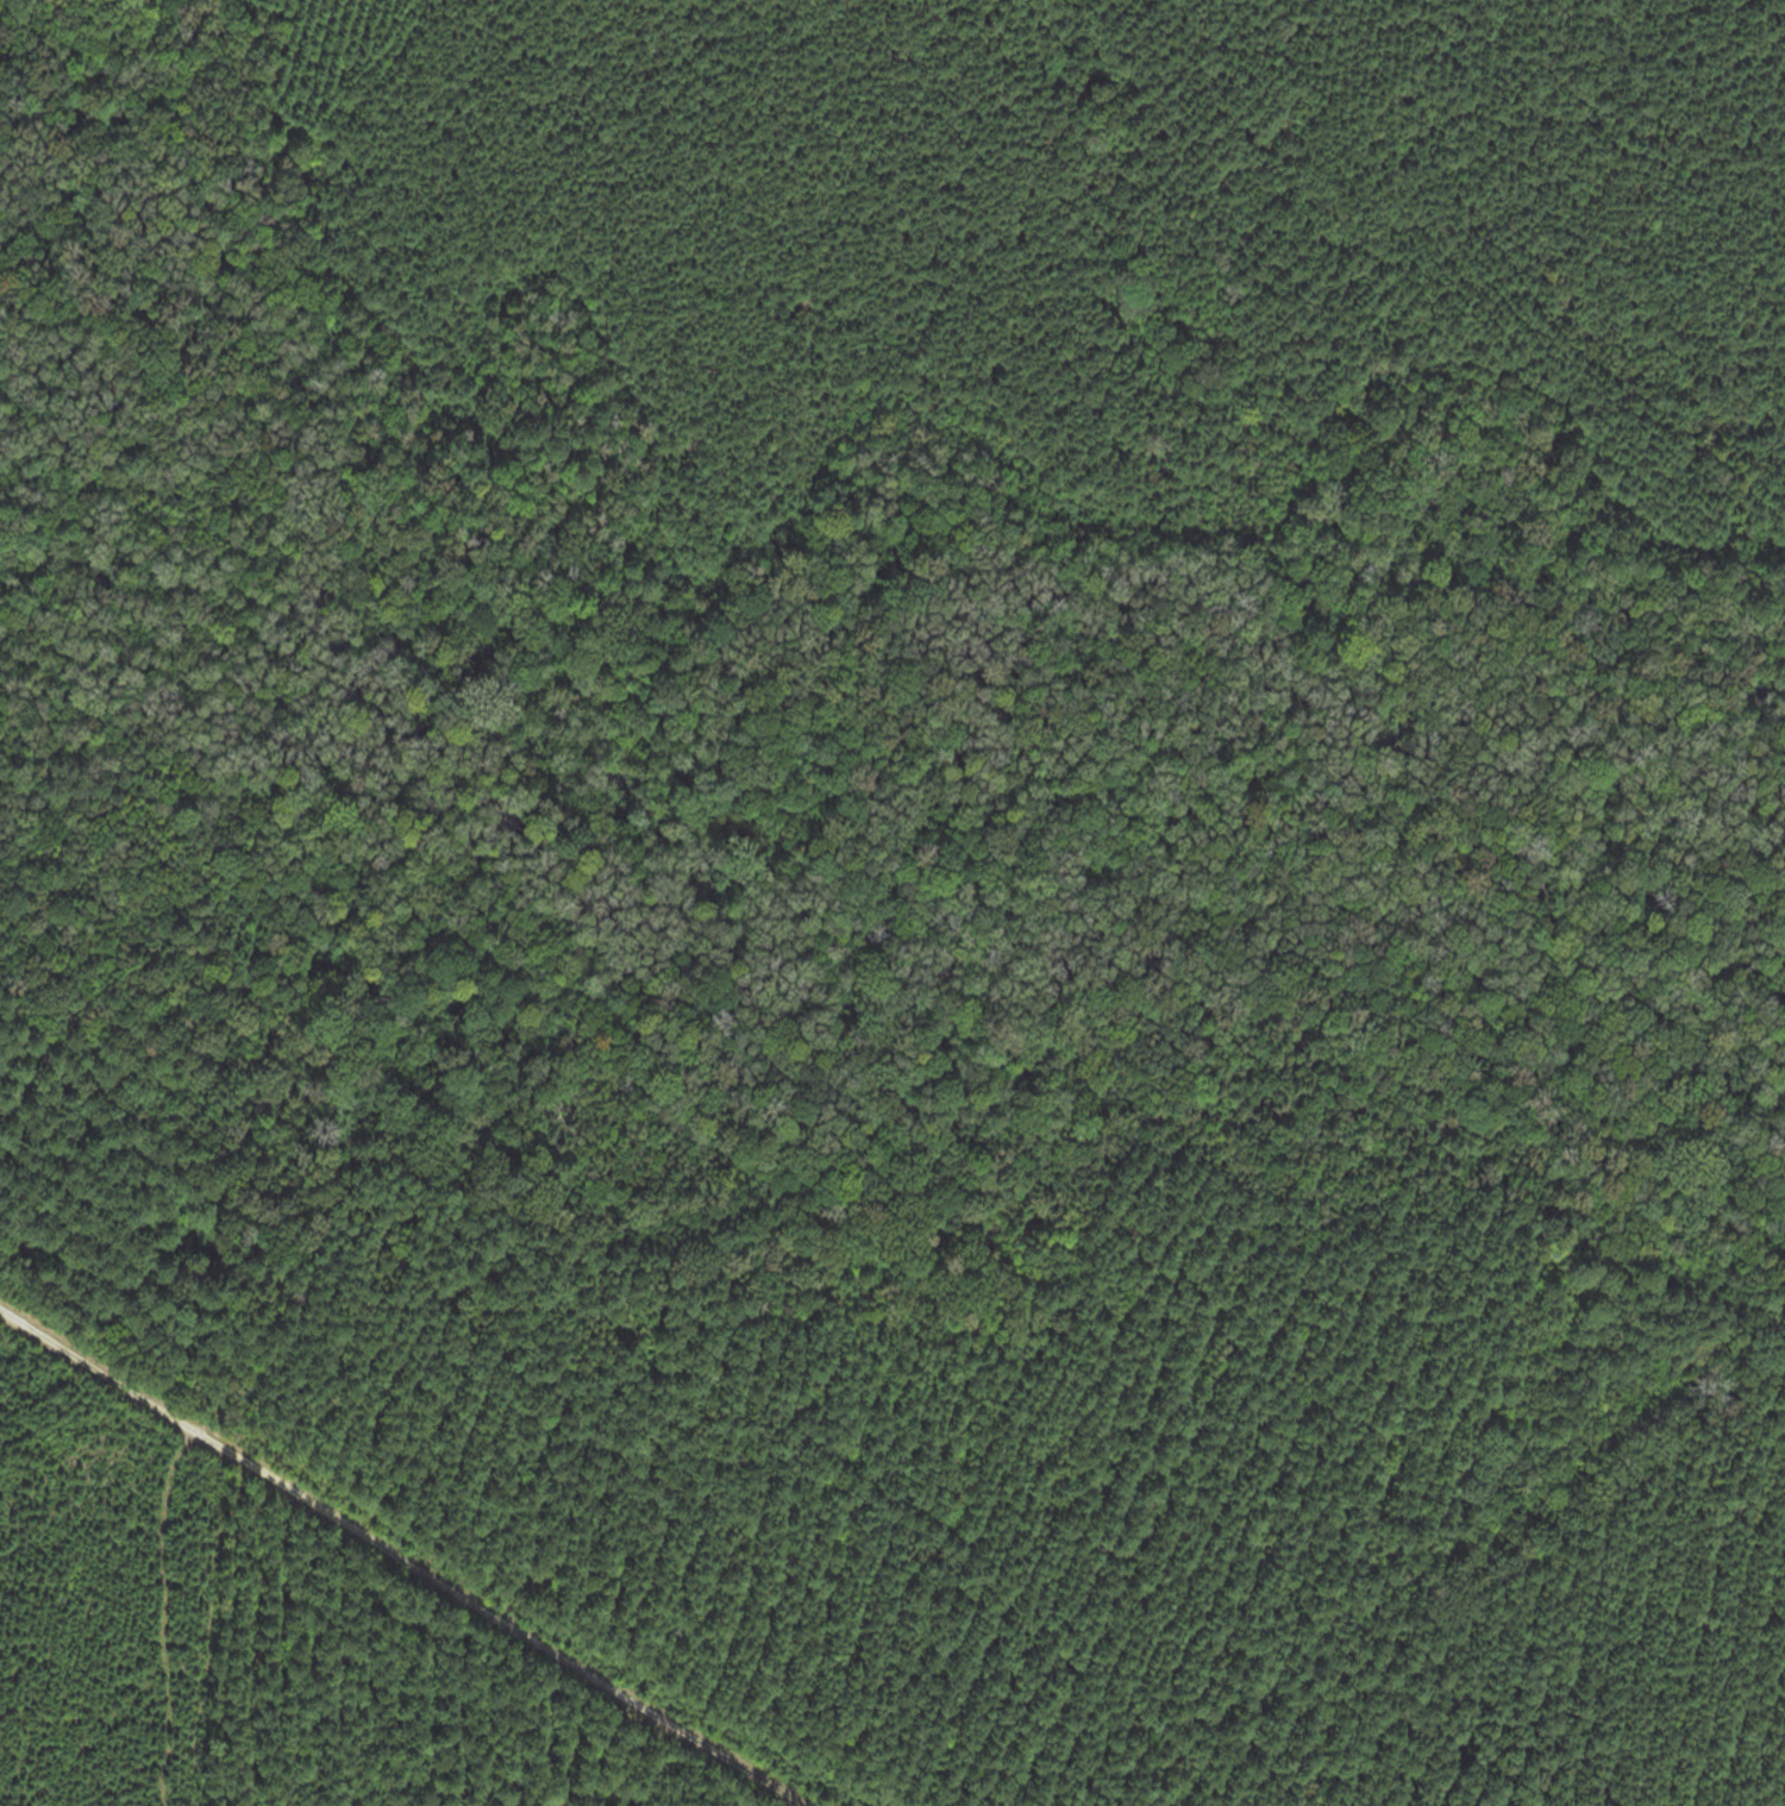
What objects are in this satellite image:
road: (400, 1557)

